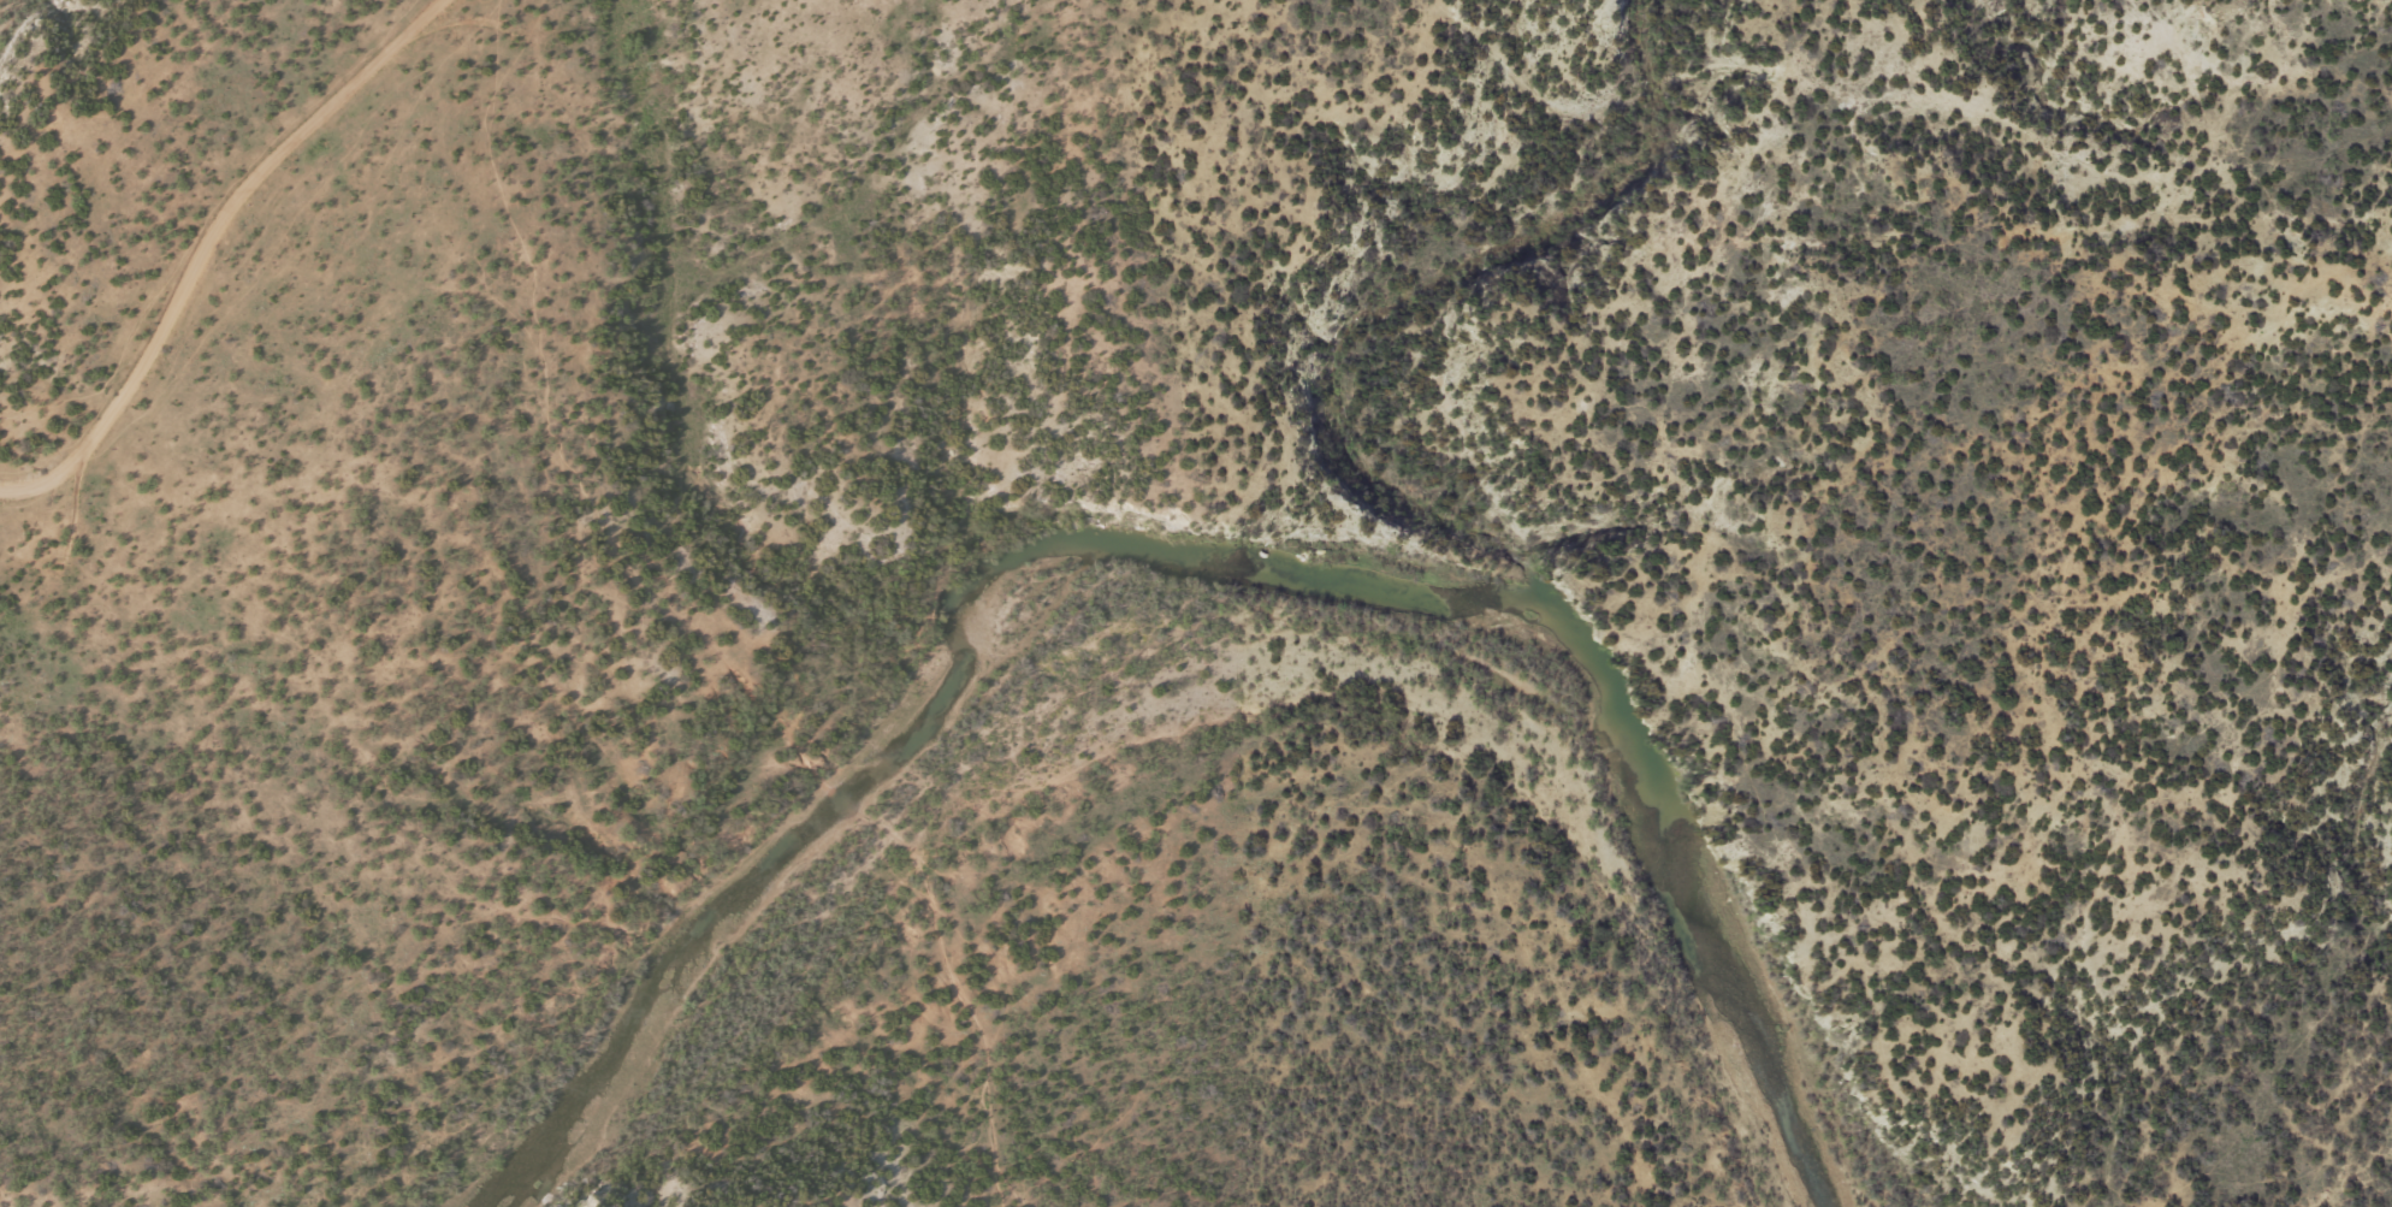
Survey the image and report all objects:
road: (218, 213)
river: (1196, 556)

